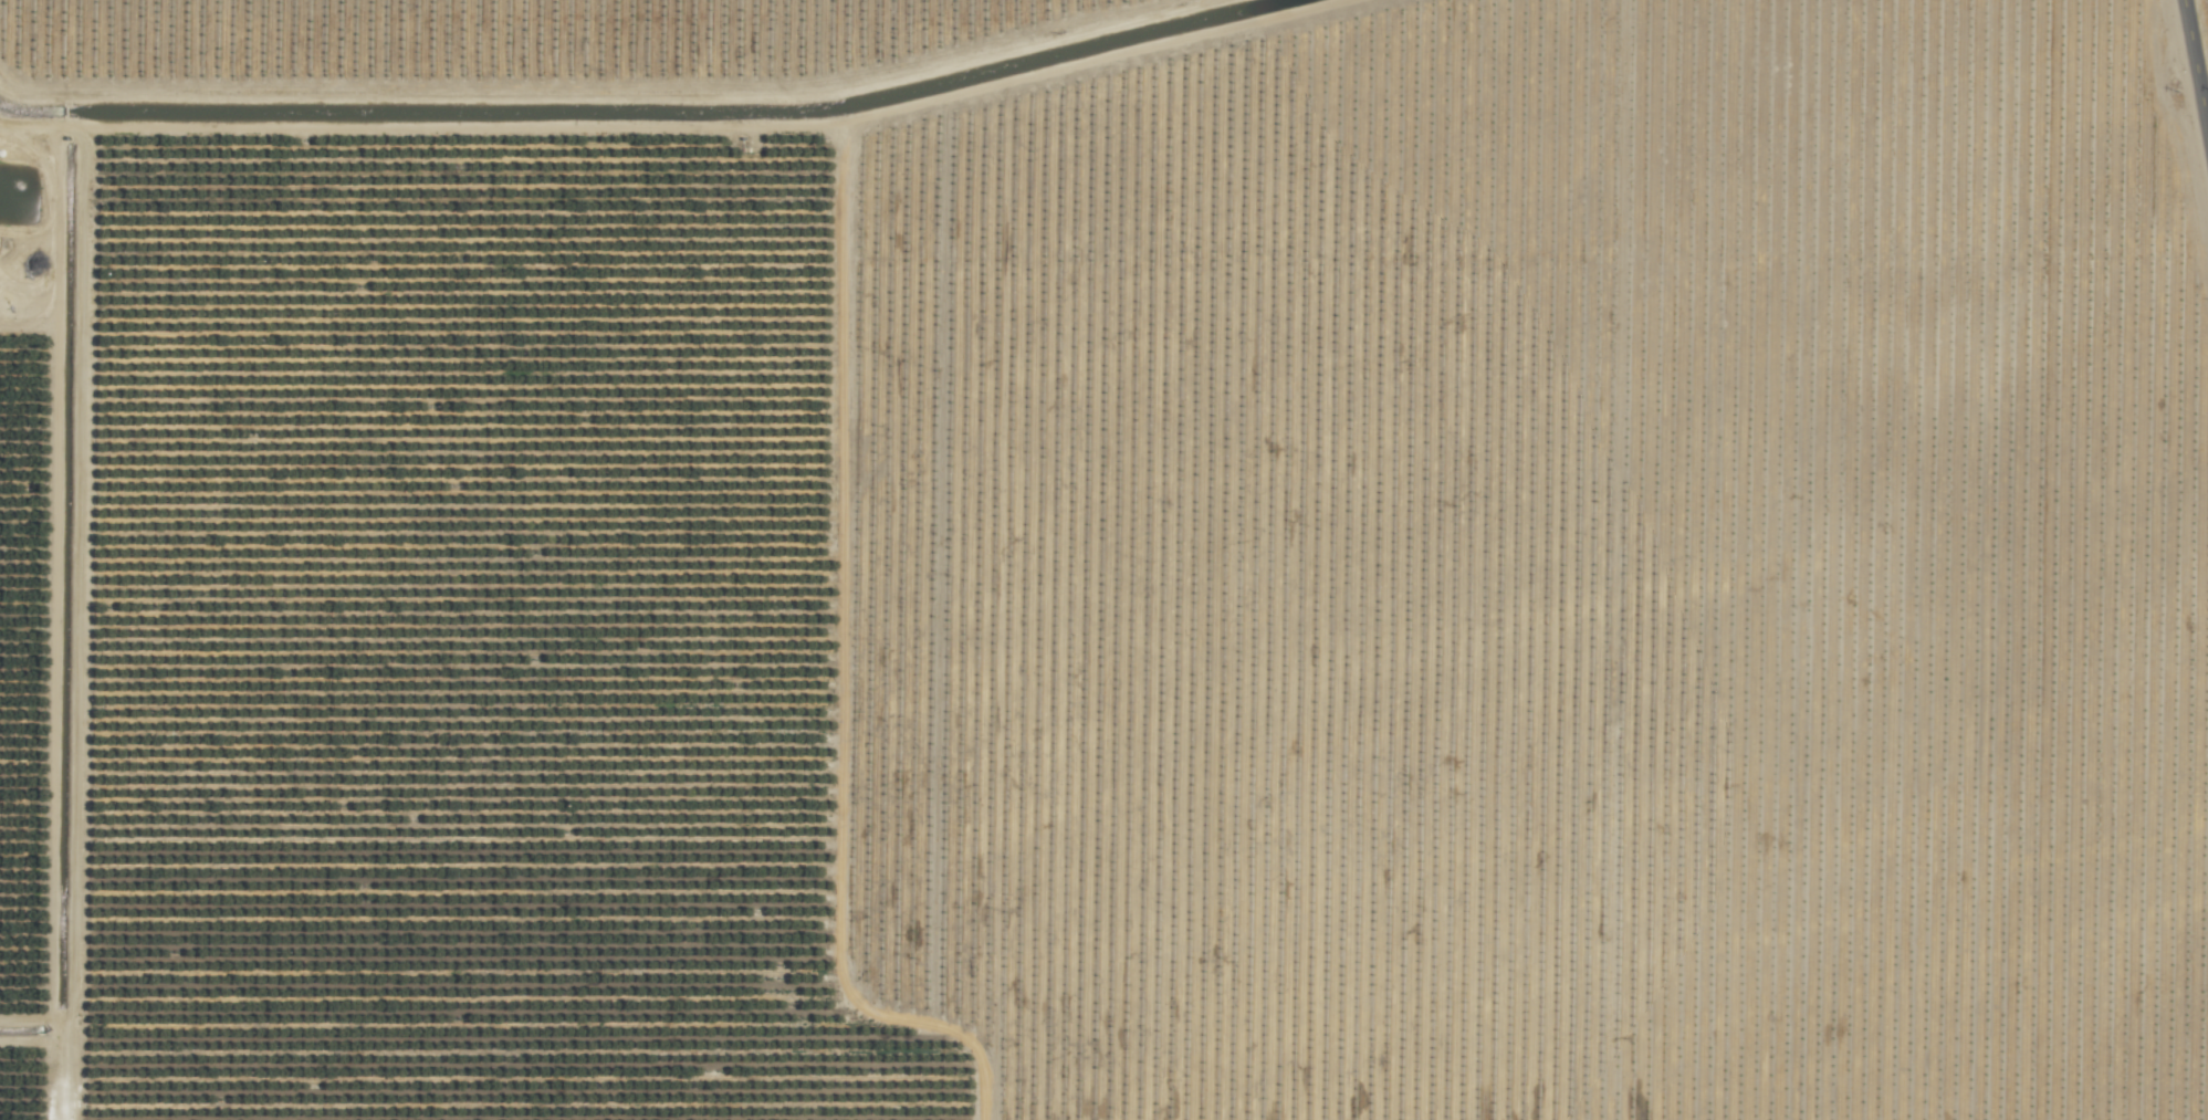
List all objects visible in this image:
road: (2195, 67)

